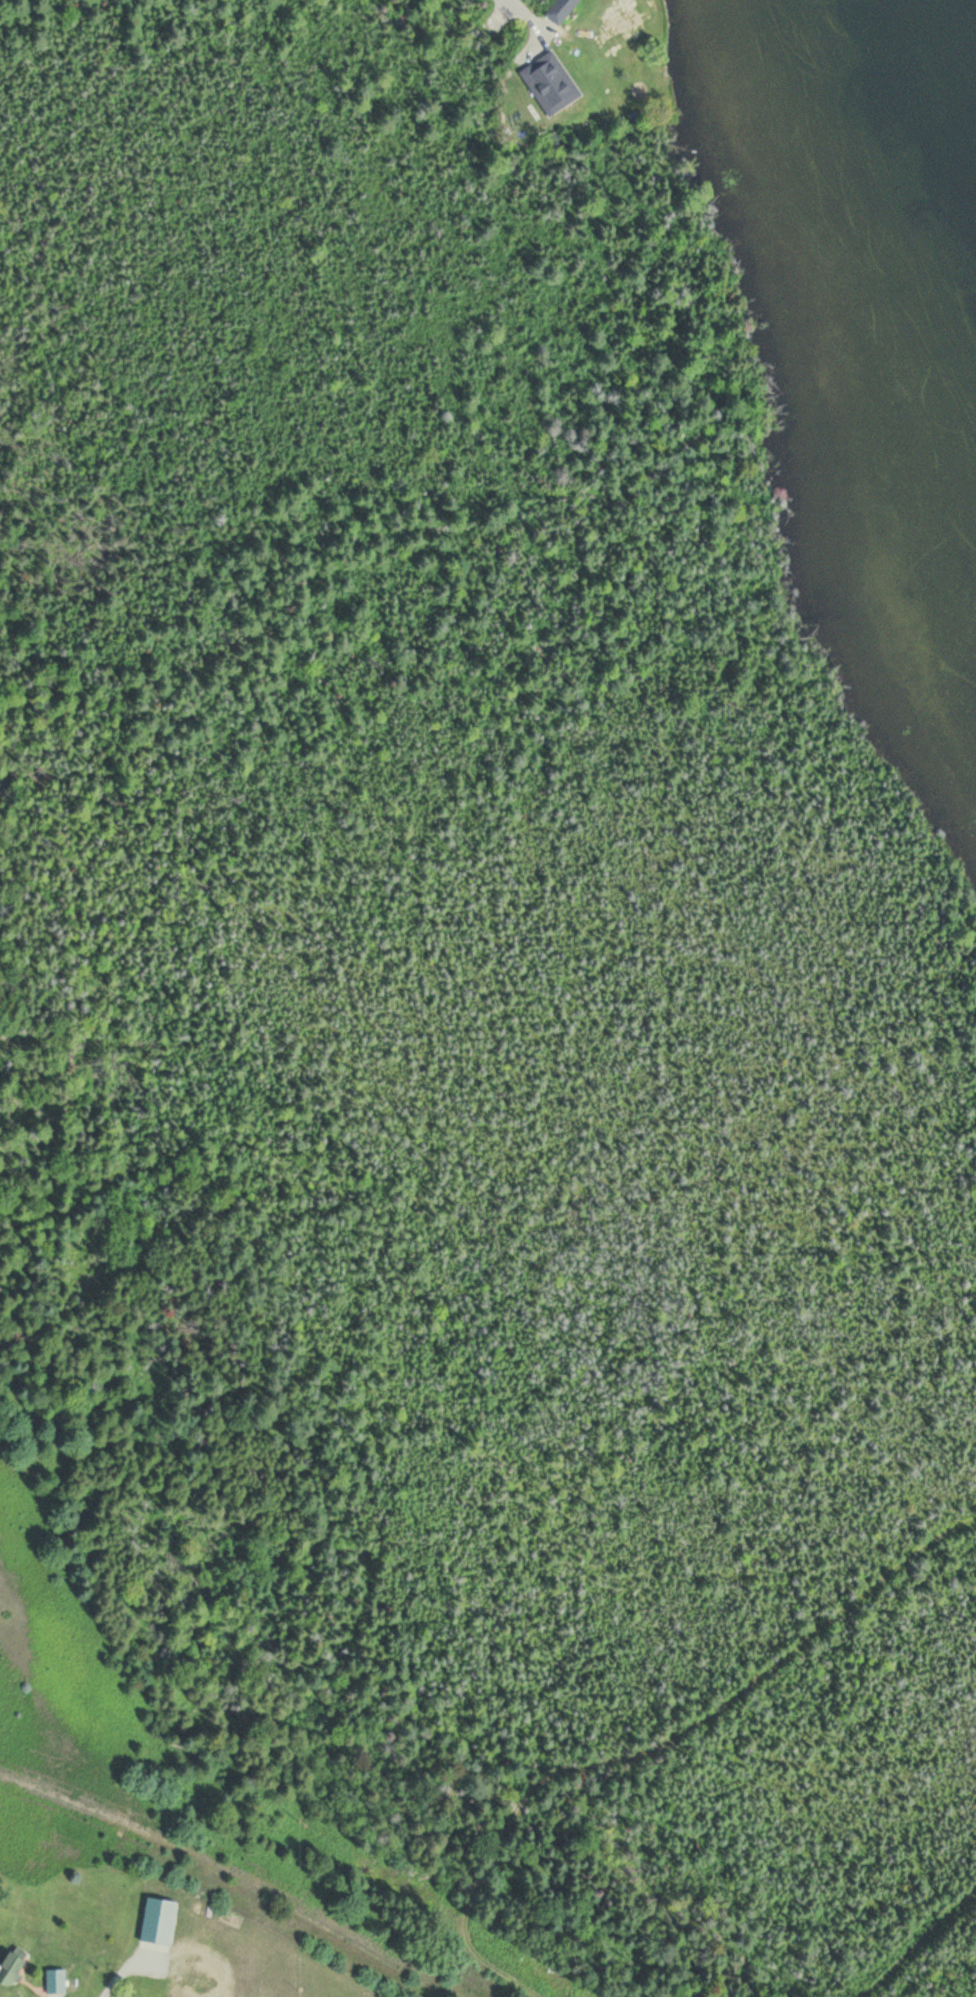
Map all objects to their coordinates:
road: (525, 22)
building: (535, 76)
building: (556, 142)
road: (921, 1939)
building: (13, 1966)
building: (56, 1982)

